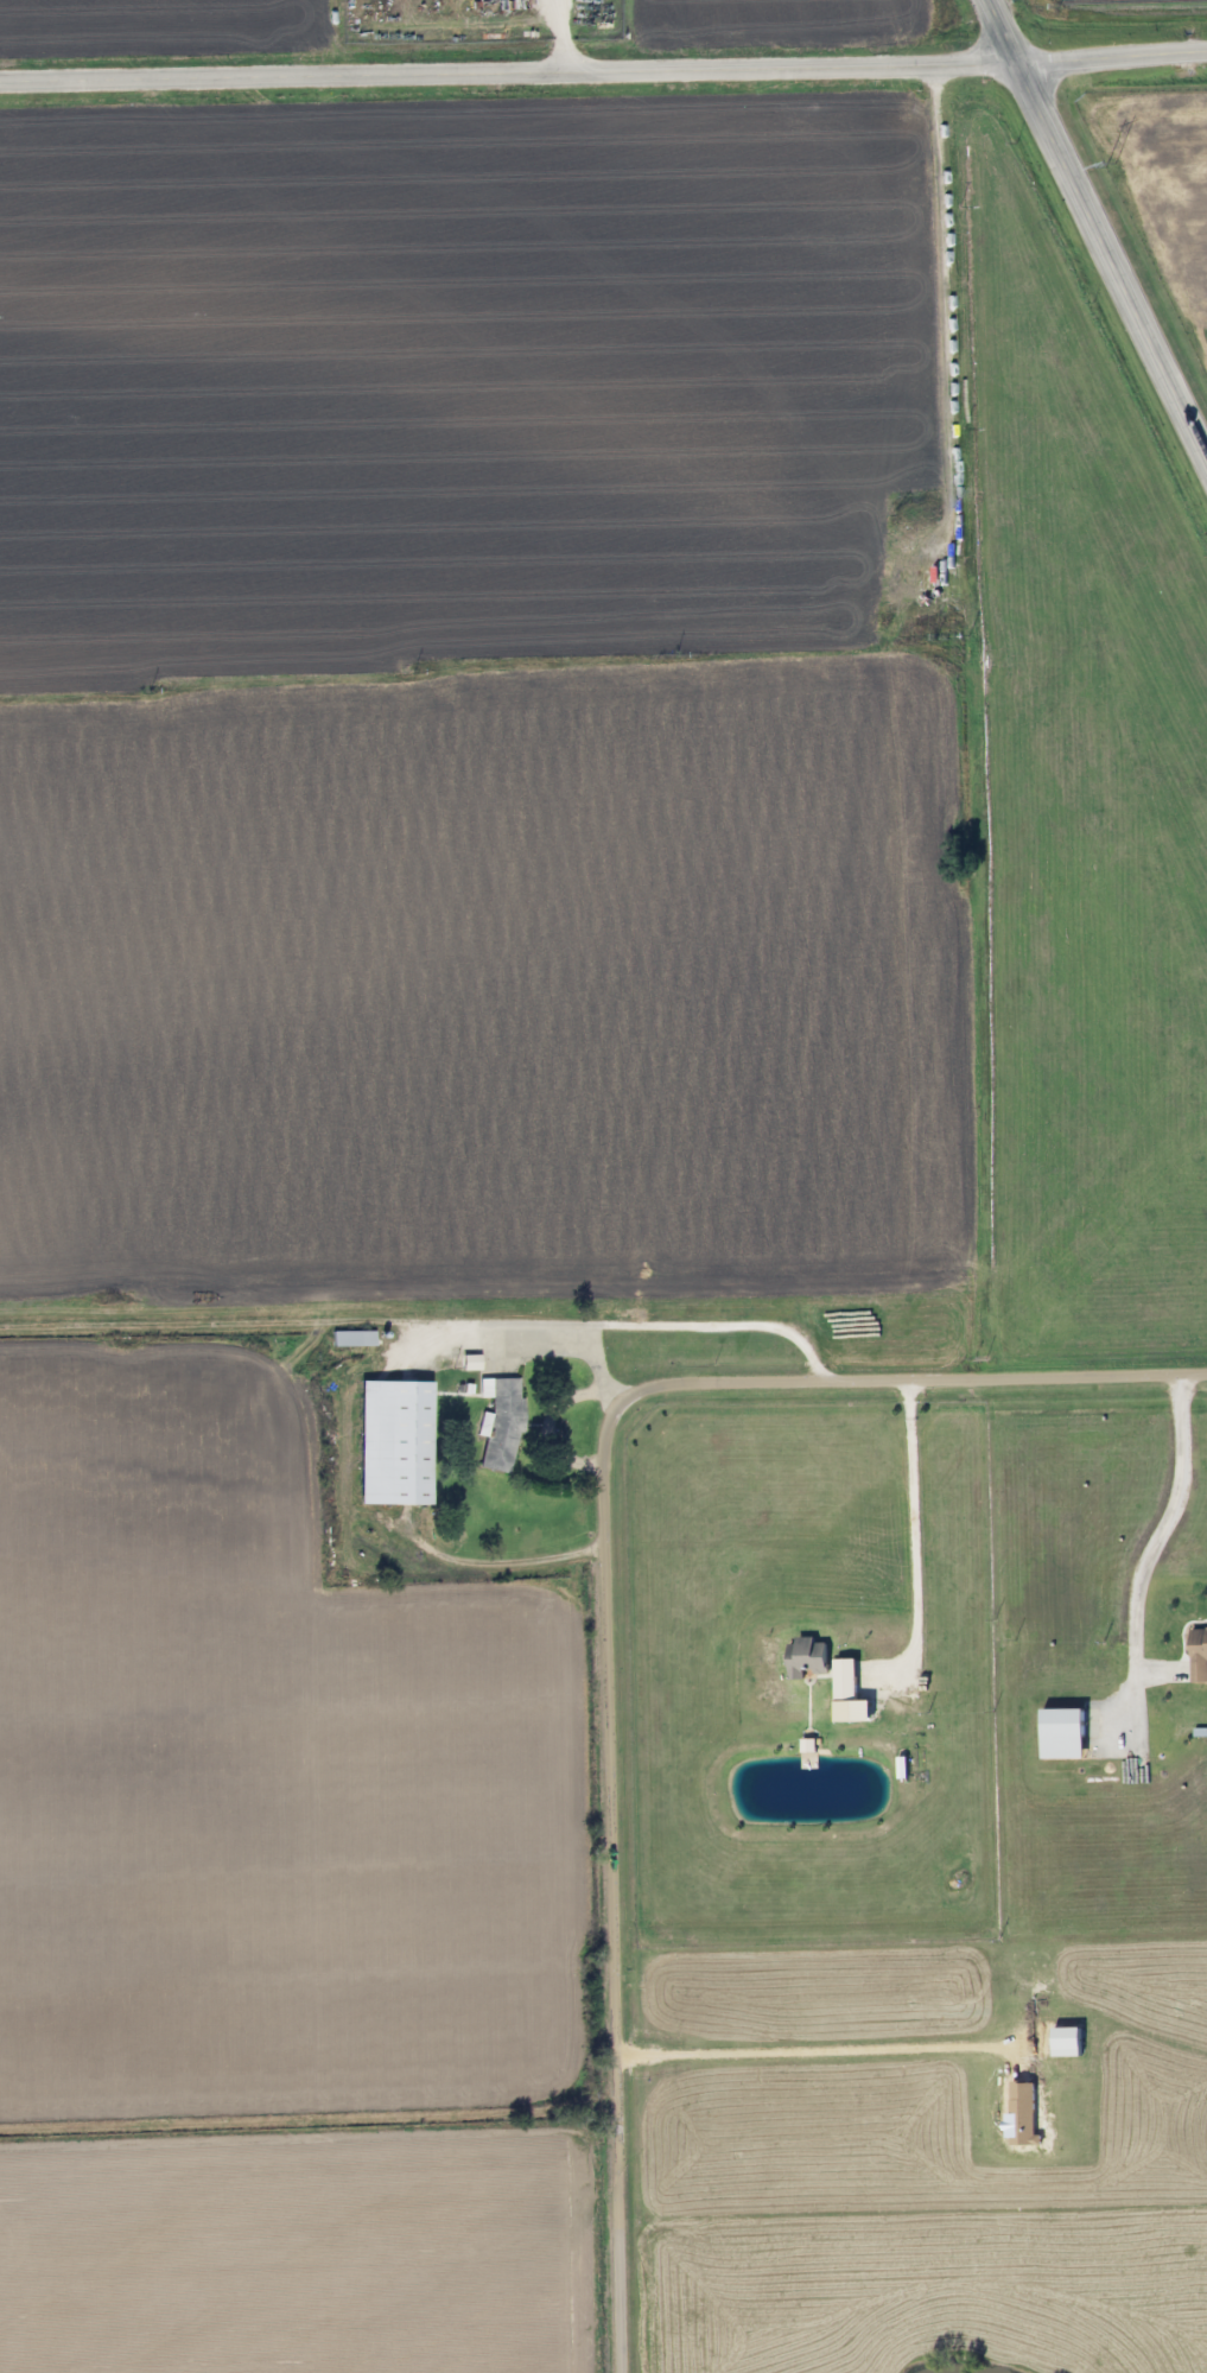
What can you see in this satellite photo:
road: (603, 74)
power tower: (1108, 165)
road: (1093, 230)
building: (349, 1343)
building: (498, 1426)
road: (548, 1426)
building: (393, 1444)
road: (916, 1537)
road: (1152, 1546)
road: (609, 1581)
building: (1067, 1734)

